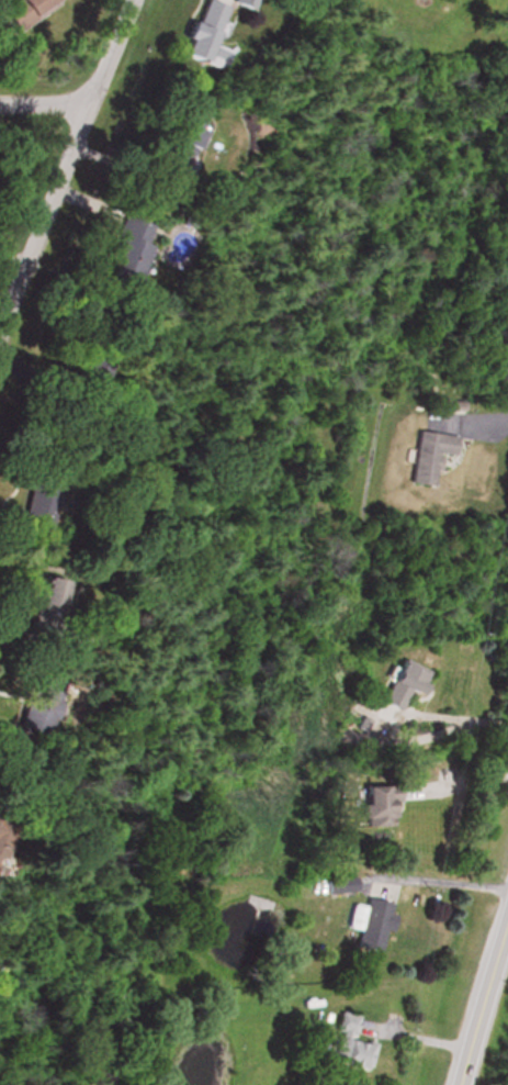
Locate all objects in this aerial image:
building: (240, 3)
building: (22, 13)
building: (202, 34)
road: (42, 100)
building: (183, 137)
road: (60, 160)
building: (129, 249)
road: (485, 421)
building: (428, 458)
building: (37, 502)
building: (42, 604)
road: (20, 637)
building: (75, 642)
building: (399, 685)
building: (35, 714)
road: (444, 715)
road: (10, 729)
road: (455, 782)
building: (376, 807)
building: (1, 831)
road: (439, 880)
building: (338, 887)
building: (371, 926)
road: (478, 993)
building: (348, 1048)

